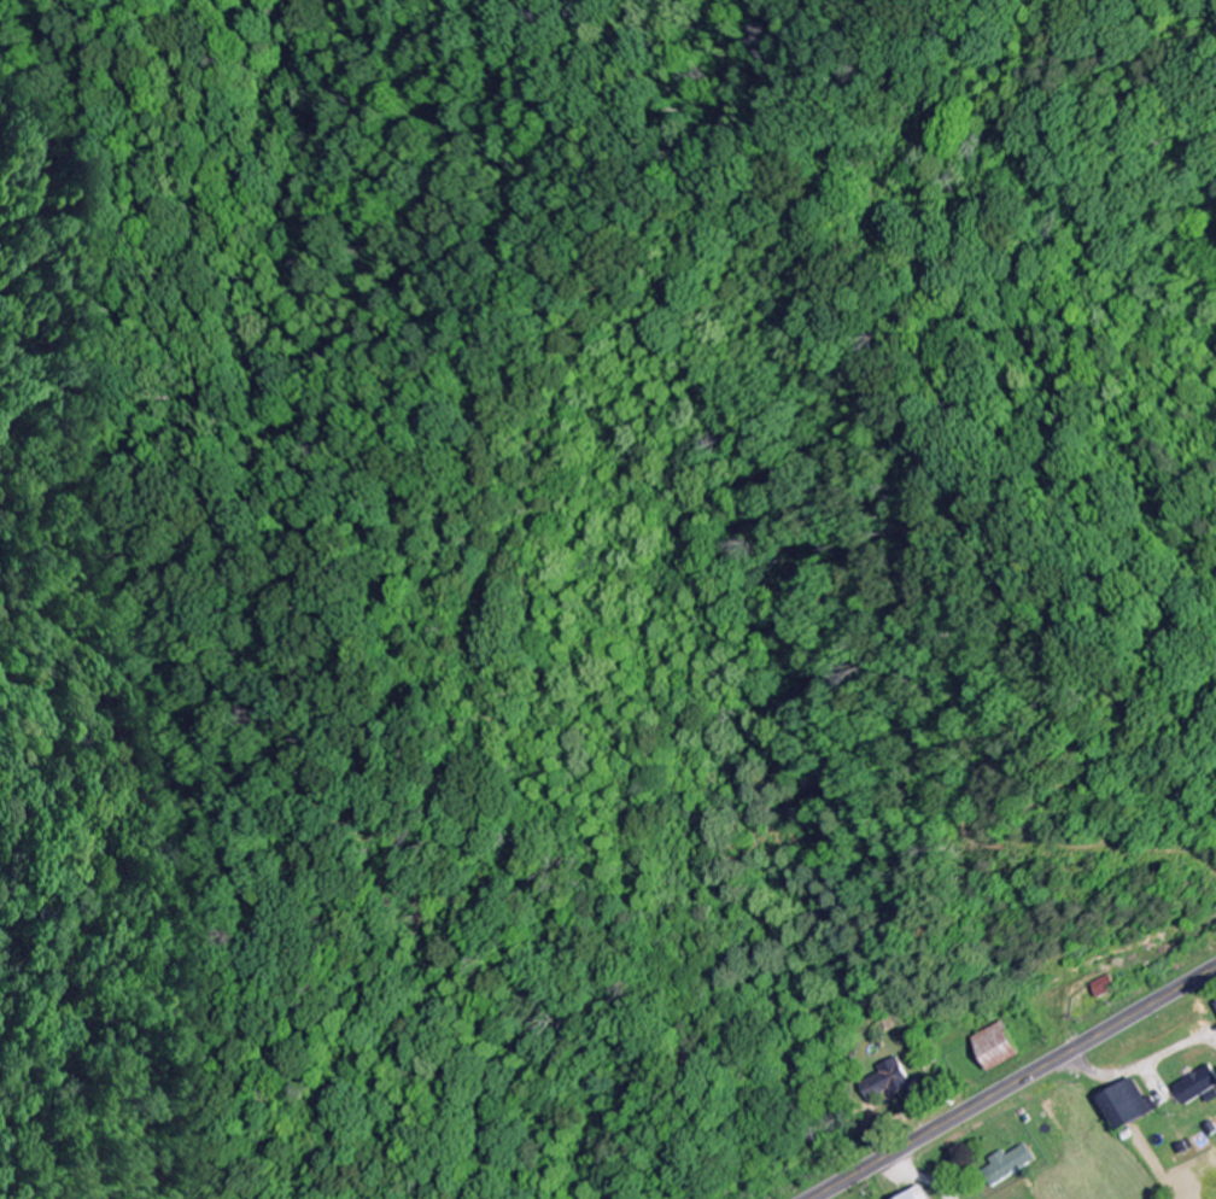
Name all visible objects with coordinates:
building: (1101, 988)
building: (1215, 1006)
building: (994, 1048)
building: (887, 1082)
road: (1012, 1082)
building: (1195, 1088)
building: (1124, 1106)
building: (1006, 1166)

